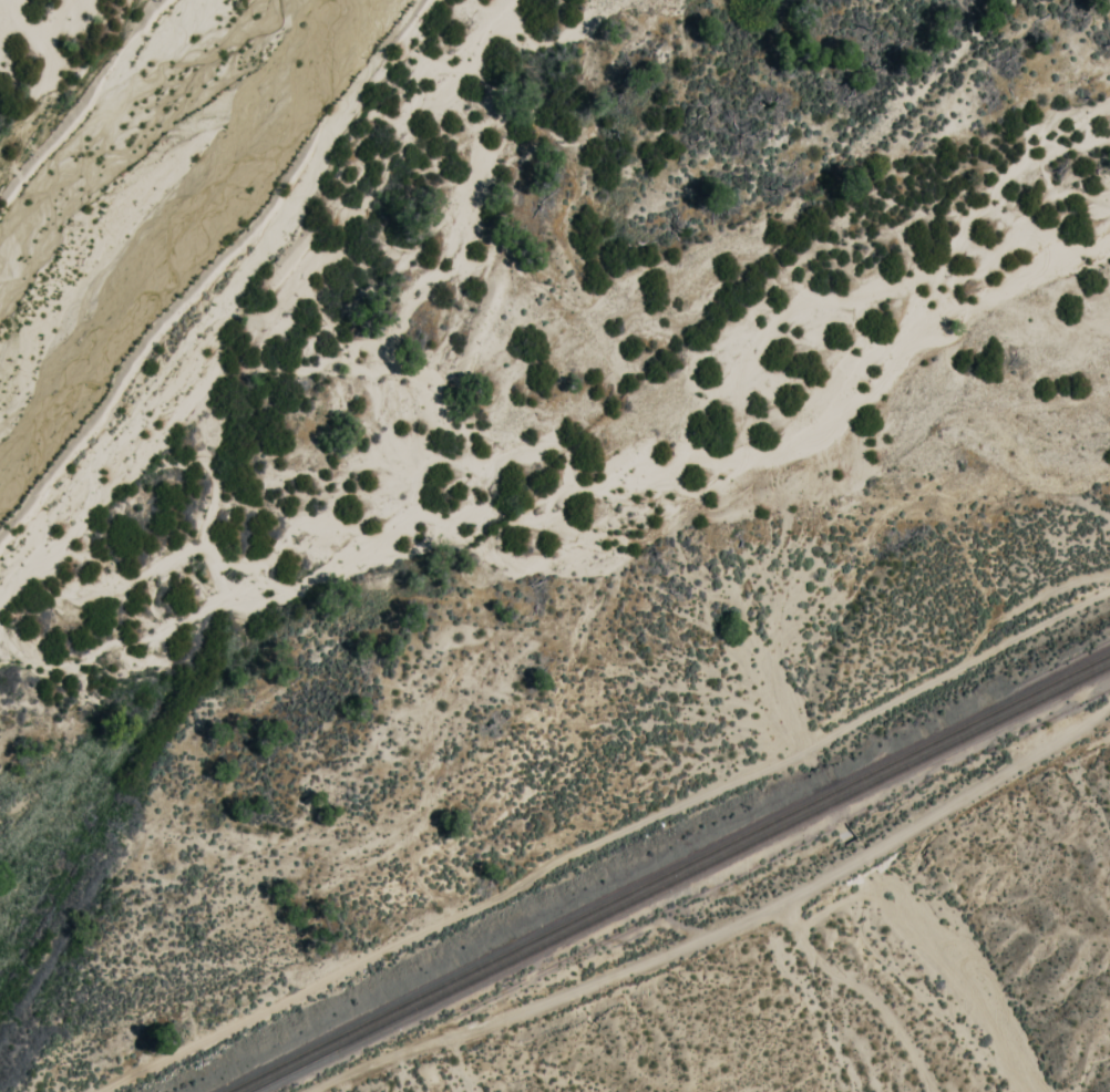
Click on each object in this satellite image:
river: (279, 280)
road: (606, 834)
railway: (667, 872)
railway: (678, 877)

